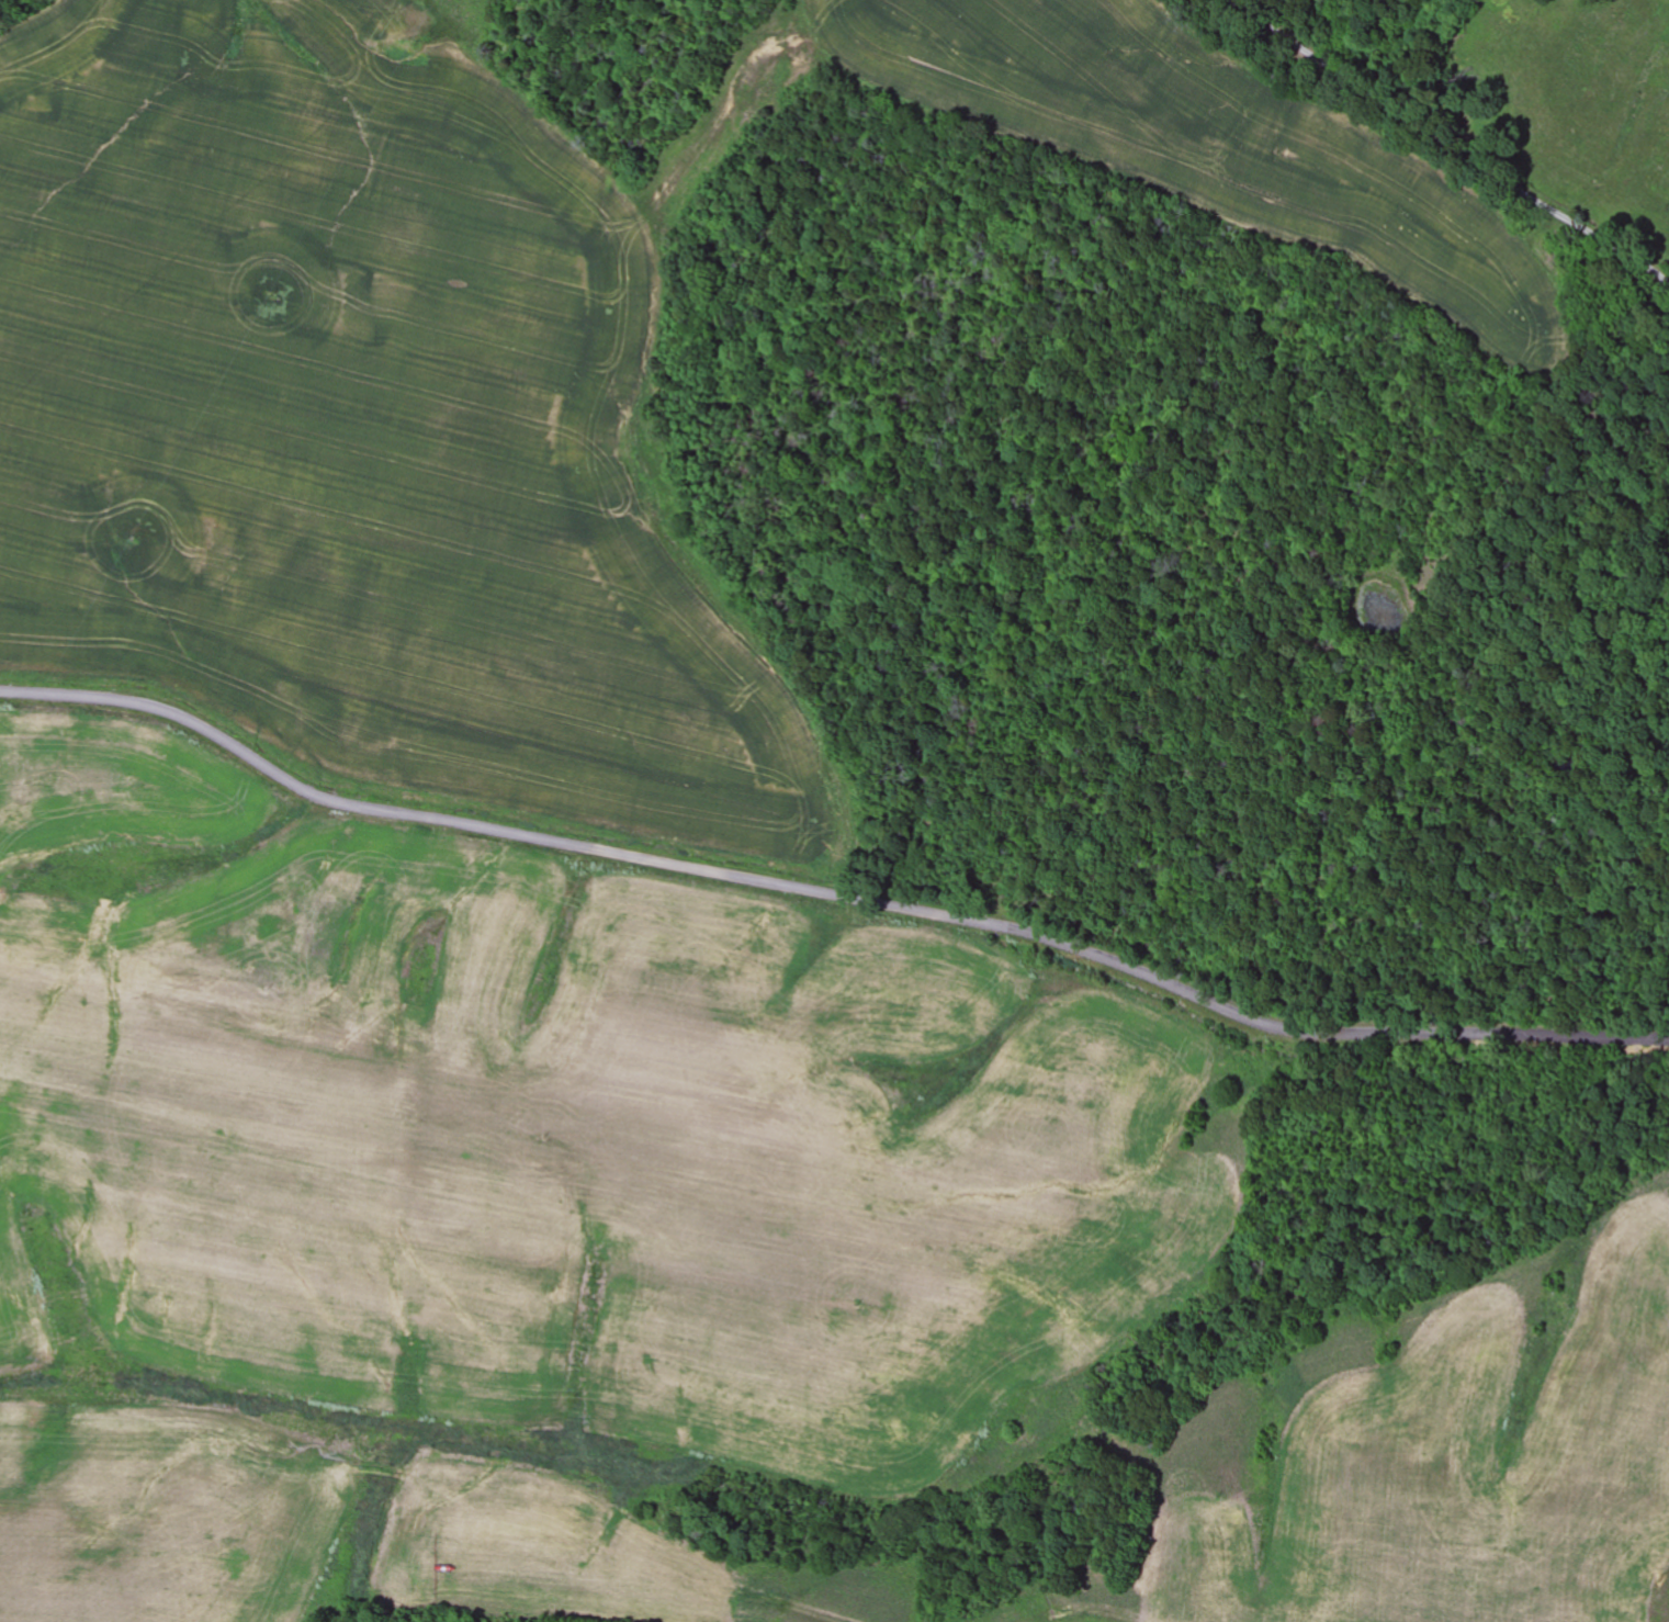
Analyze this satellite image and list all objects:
road: (1444, 143)
road: (827, 899)

